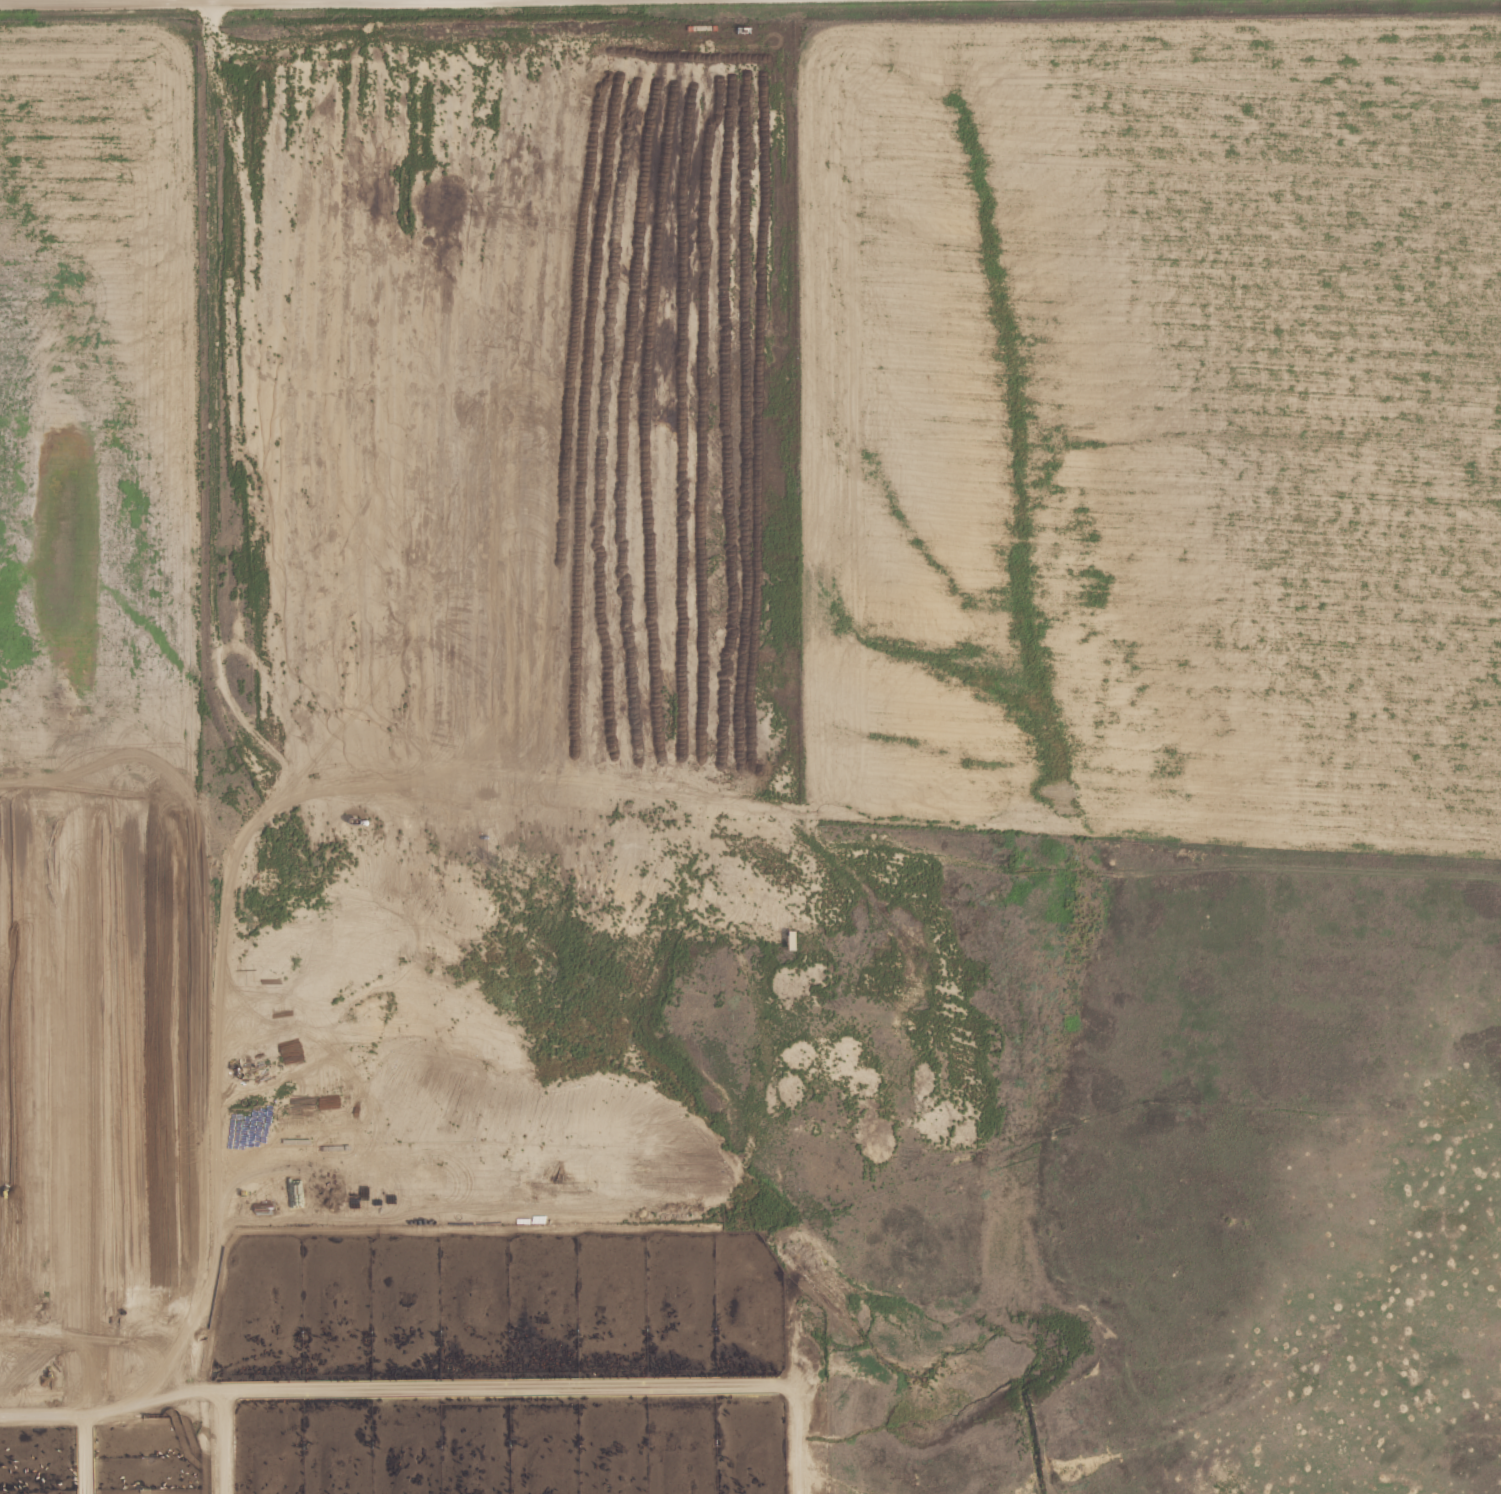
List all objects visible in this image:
road: (276, 2)
crop: (437, 1331)
road: (49, 1433)

